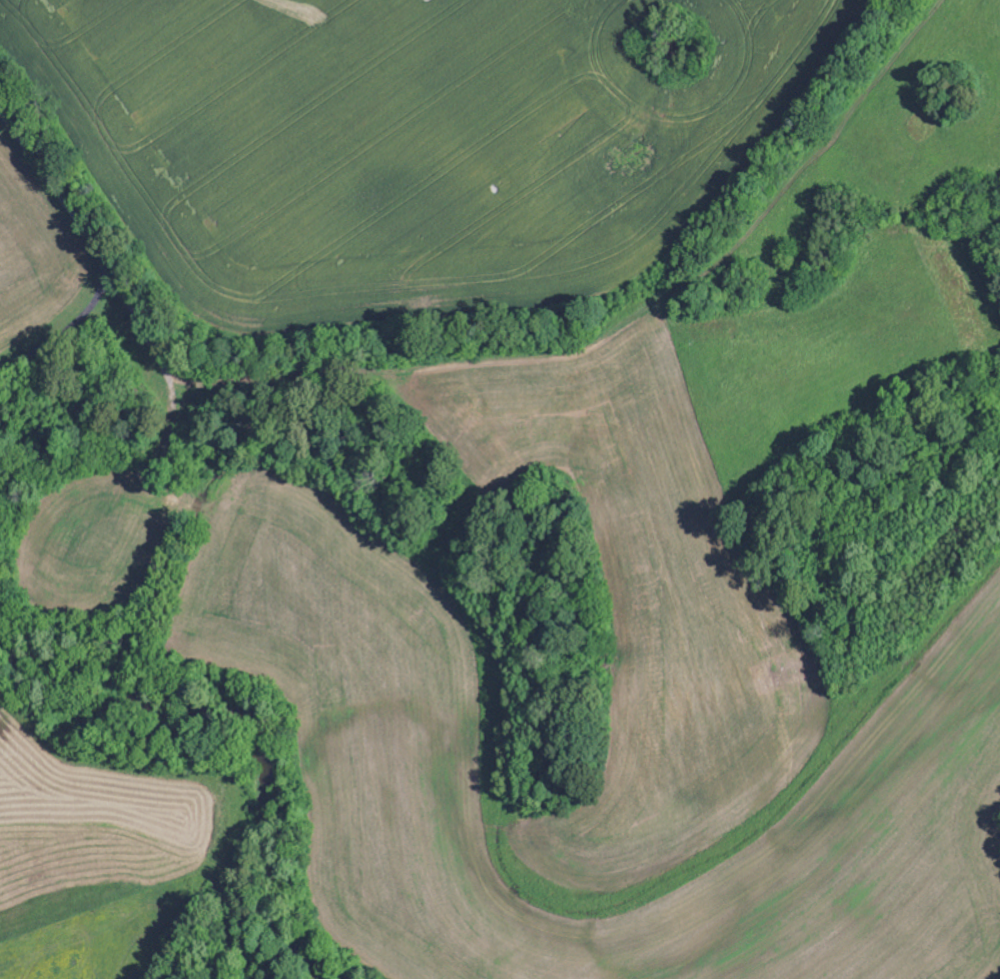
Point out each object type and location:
road: (96, 249)

